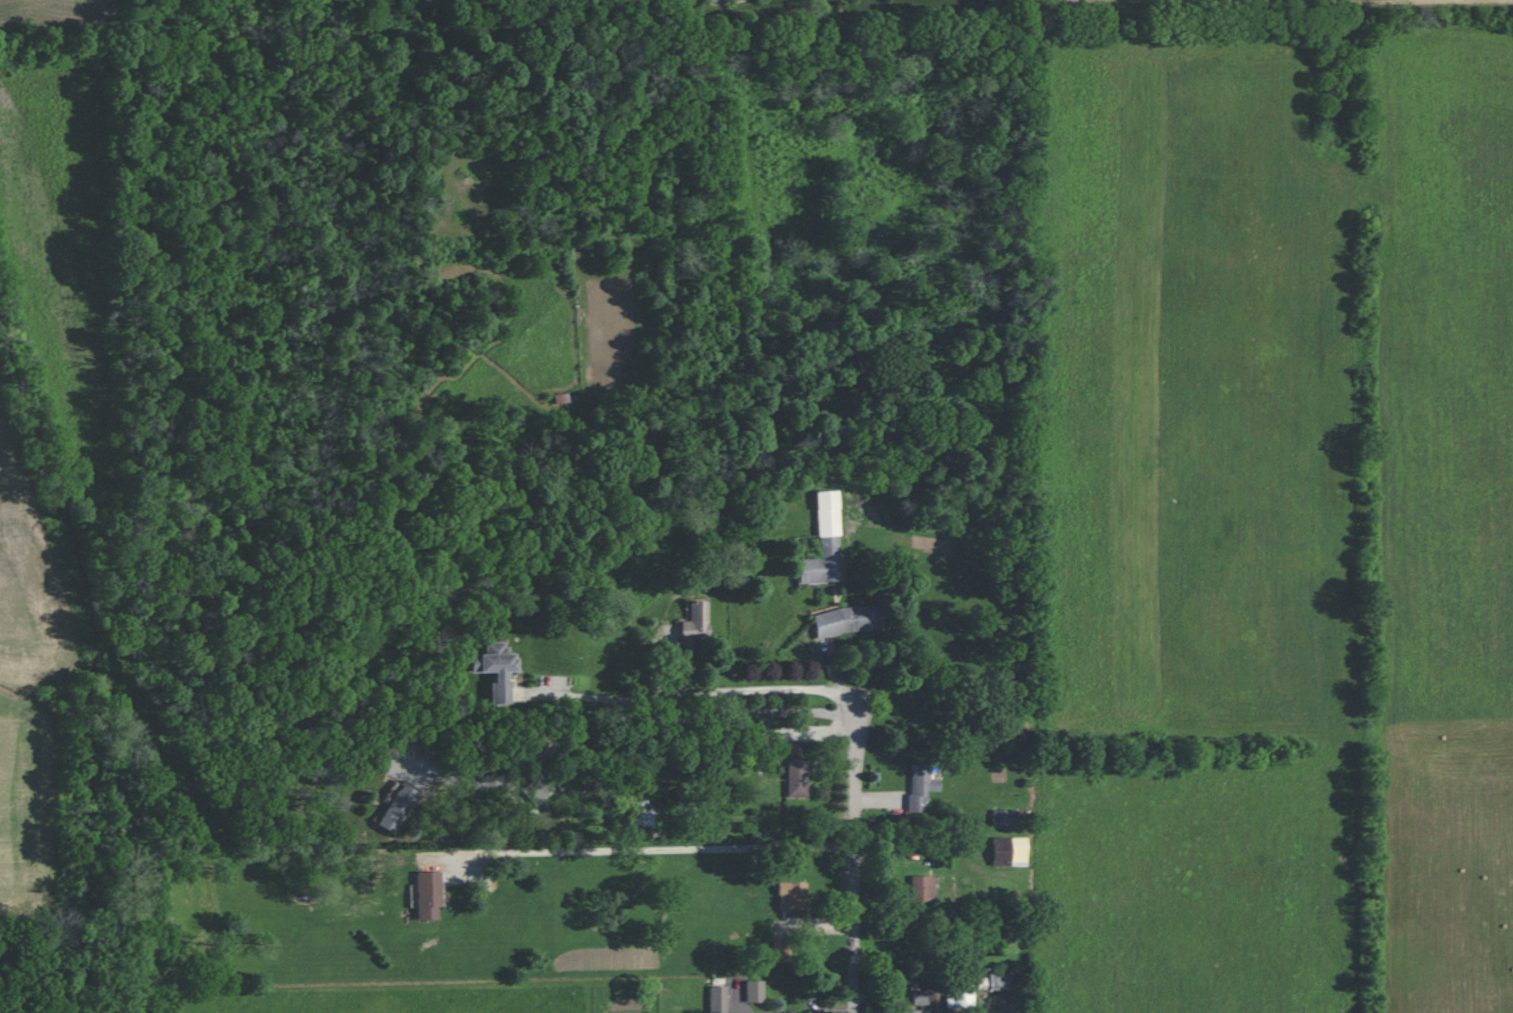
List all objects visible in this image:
building: (824, 543)
building: (847, 620)
building: (694, 624)
building: (495, 669)
road: (682, 695)
road: (637, 719)
building: (797, 767)
building: (919, 786)
building: (536, 790)
building: (397, 808)
building: (641, 813)
building: (1004, 817)
road: (857, 844)
road: (662, 849)
building: (1009, 851)
building: (921, 888)
building: (427, 895)
building: (792, 895)
building: (780, 951)
building: (998, 981)
building: (754, 991)
building: (959, 994)
building: (920, 997)
building: (717, 999)
road: (735, 1010)
road: (832, 1011)
building: (918, 1011)

